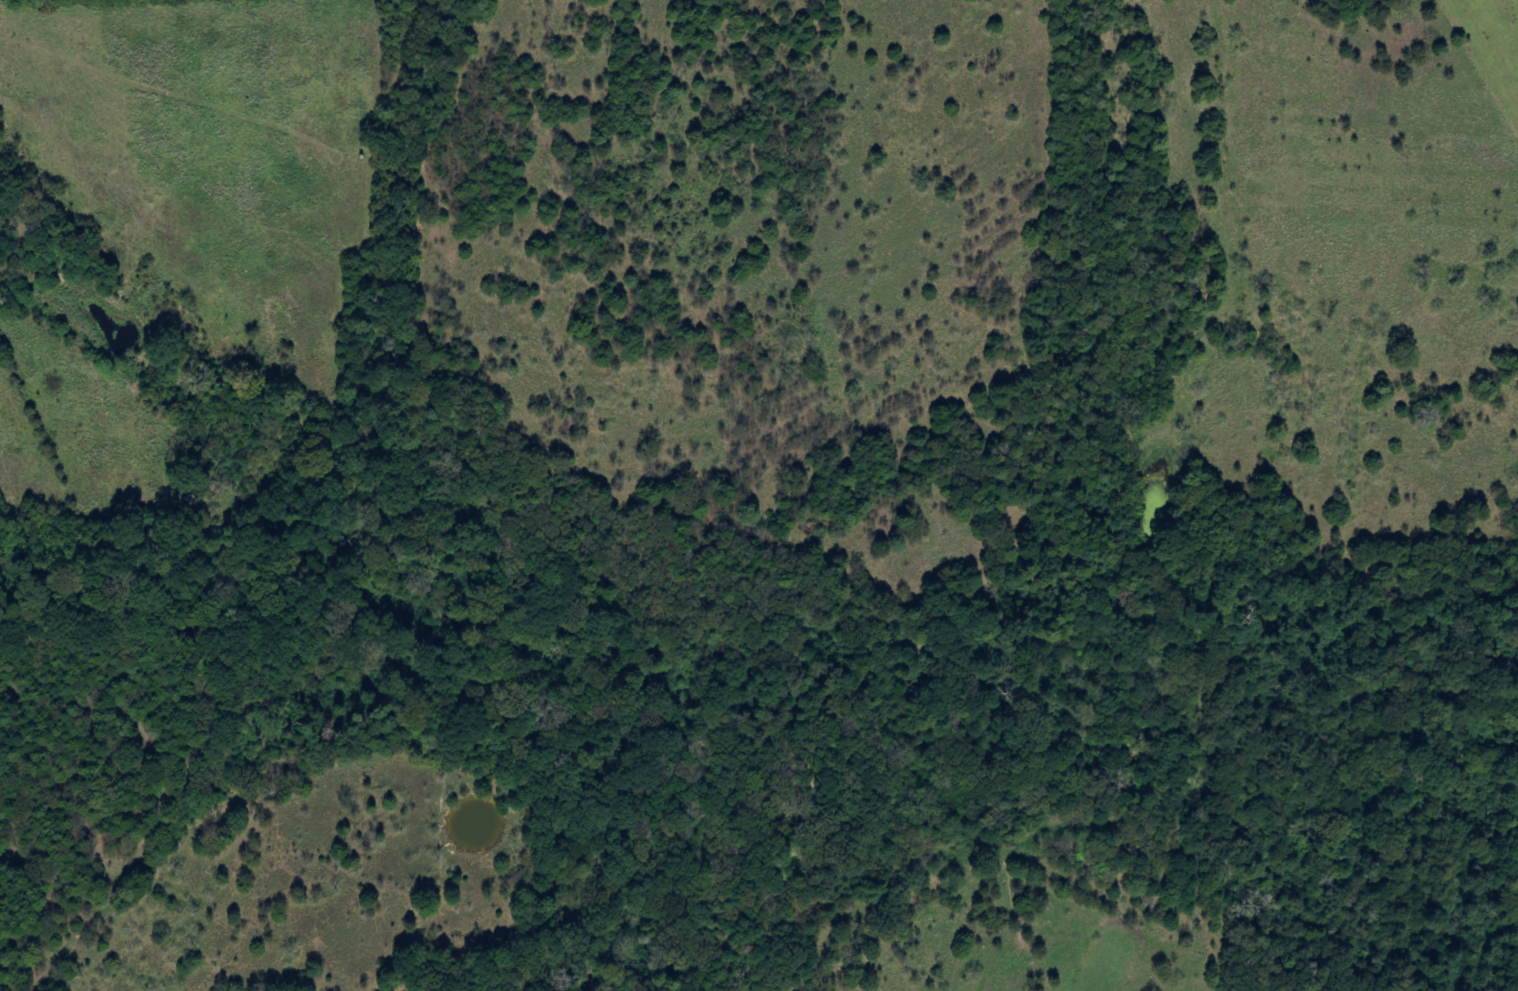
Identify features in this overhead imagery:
airport runway: (1111, 961)

